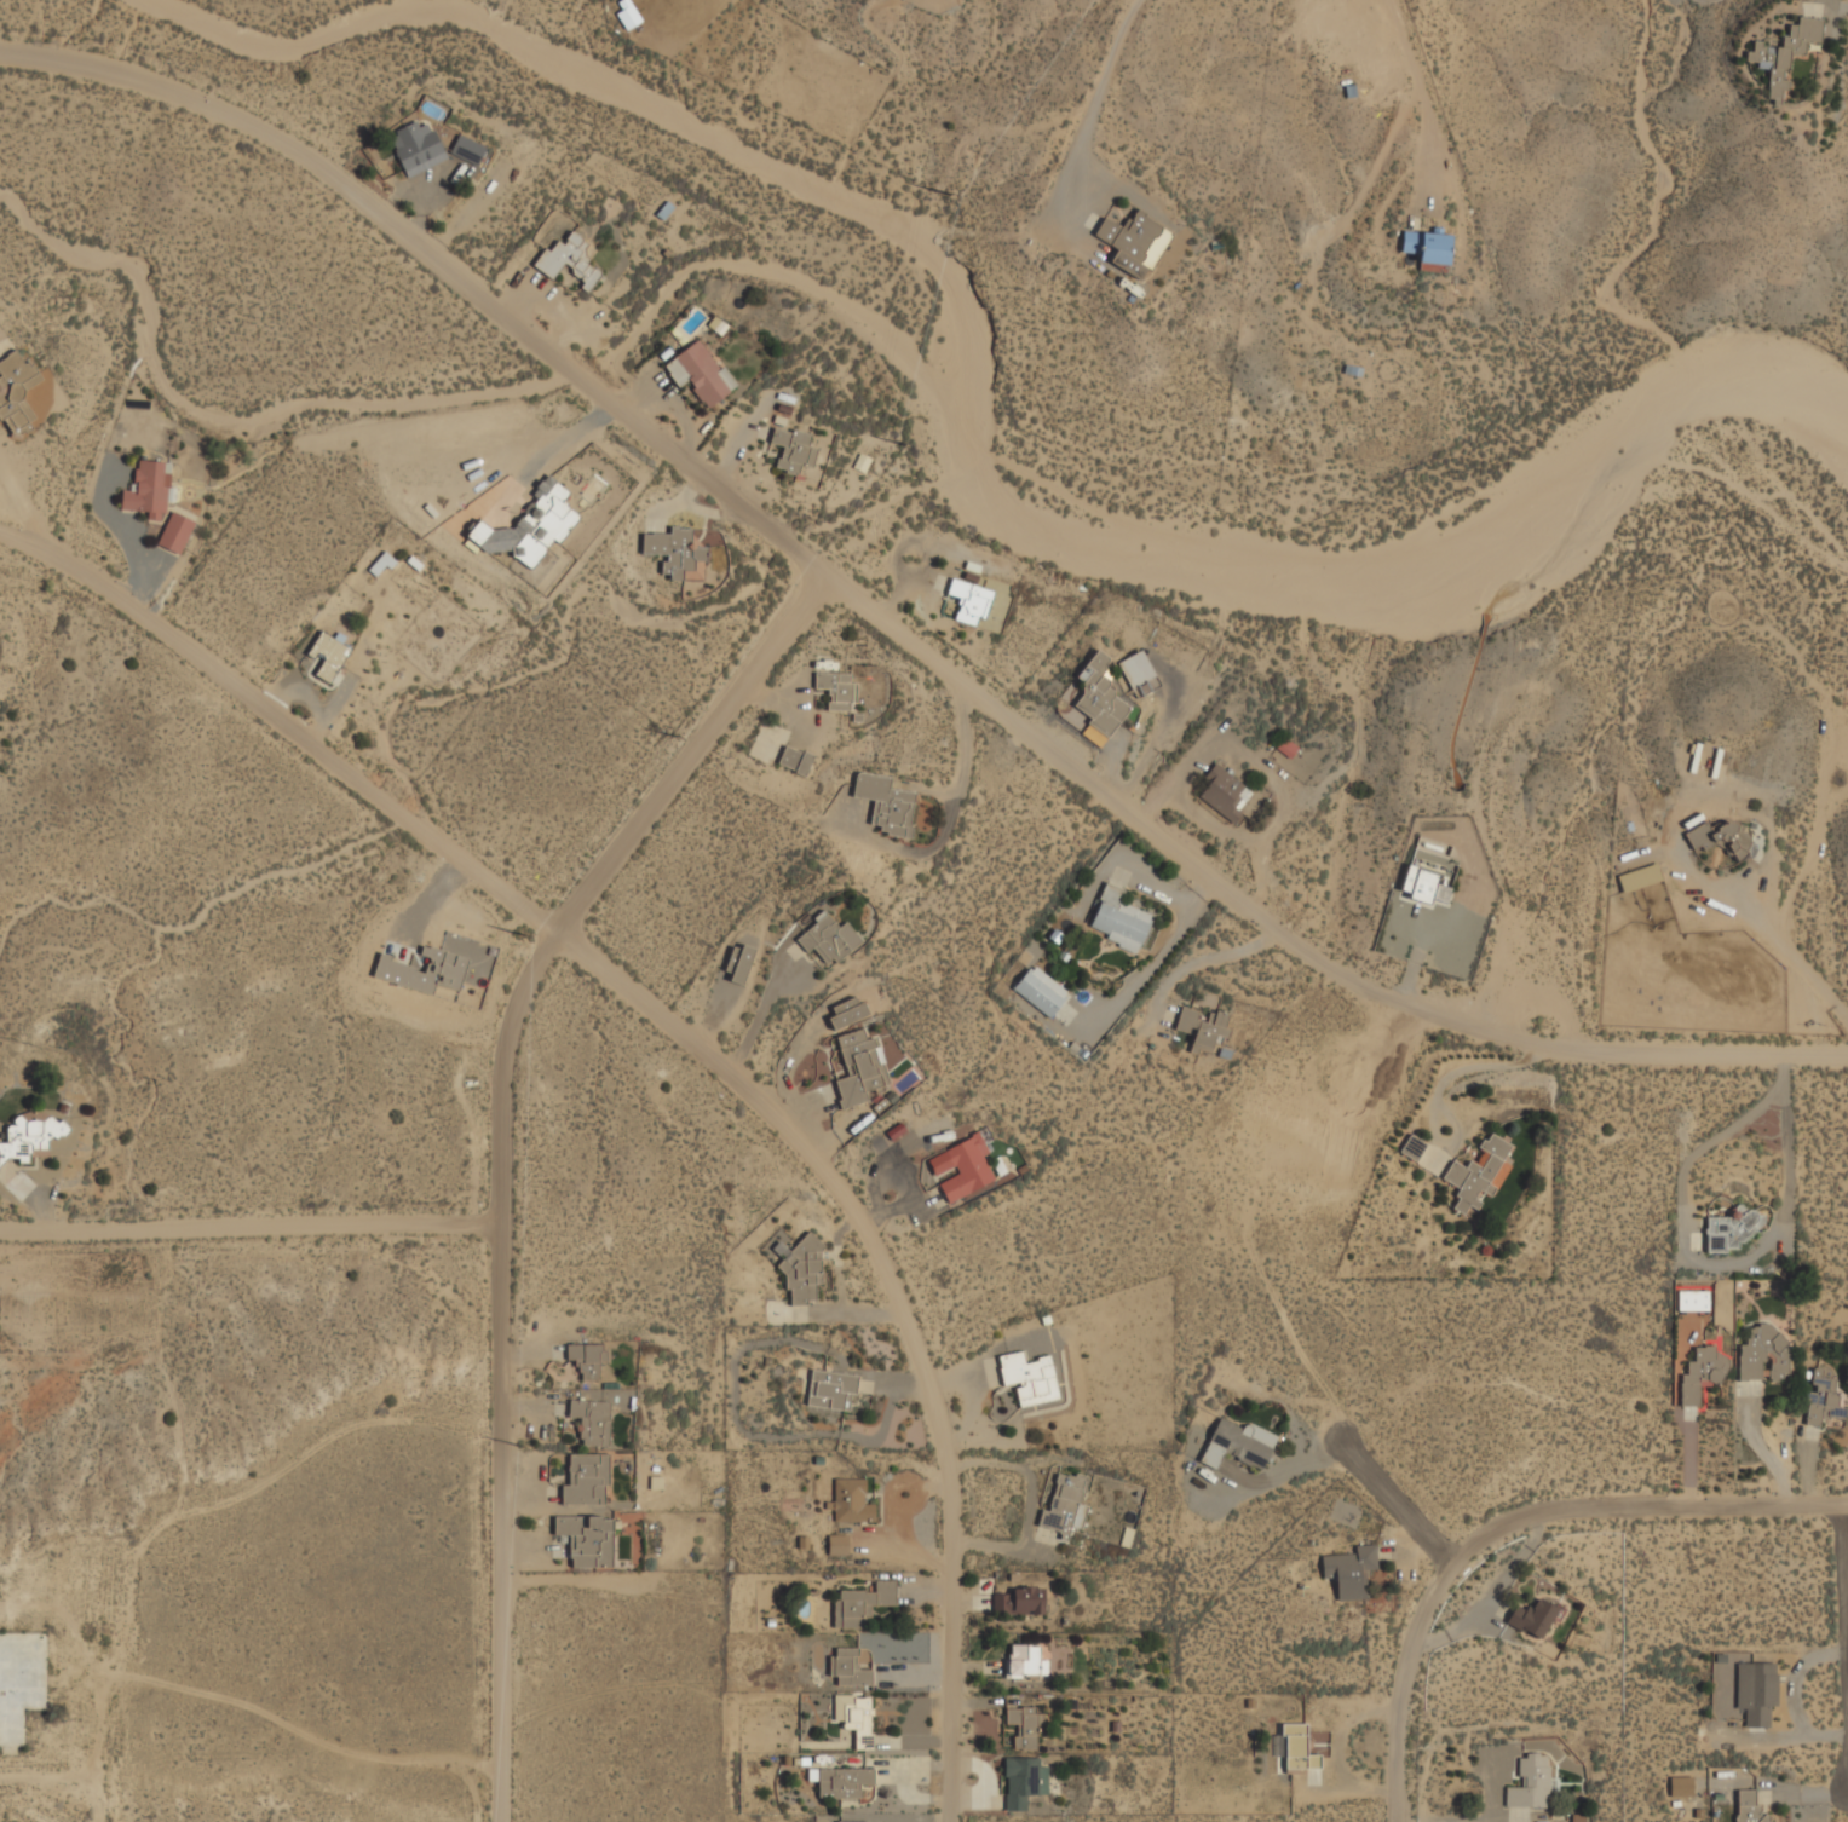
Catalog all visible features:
building: (628, 13)
building: (1784, 54)
road: (1094, 102)
building: (415, 145)
building: (467, 149)
power tower: (946, 195)
building: (1134, 242)
building: (1428, 248)
building: (569, 259)
building: (700, 370)
building: (16, 391)
power tower: (900, 442)
building: (791, 448)
building: (156, 502)
building: (530, 527)
building: (674, 549)
building: (380, 563)
building: (969, 600)
road: (894, 630)
building: (328, 656)
building: (1138, 673)
building: (837, 688)
building: (1099, 700)
power tower: (674, 734)
building: (794, 759)
building: (1224, 792)
building: (886, 802)
building: (1720, 836)
building: (1428, 872)
building: (1639, 876)
building: (1118, 919)
power tower: (518, 930)
building: (825, 938)
building: (741, 963)
building: (1041, 991)
building: (846, 1011)
building: (1202, 1027)
road: (698, 1038)
building: (860, 1067)
building: (29, 1134)
building: (1412, 1146)
road: (501, 1147)
building: (962, 1167)
building: (1479, 1172)
road: (251, 1220)
building: (1732, 1228)
road: (1688, 1257)
building: (801, 1269)
building: (1693, 1299)
building: (1763, 1354)
building: (587, 1359)
building: (1702, 1372)
building: (1027, 1376)
building: (831, 1389)
building: (1823, 1397)
building: (591, 1419)
building: (1237, 1443)
power tower: (522, 1448)
building: (587, 1478)
building: (851, 1500)
building: (1065, 1504)
road: (1510, 1524)
building: (586, 1538)
building: (837, 1543)
building: (1351, 1569)
building: (1019, 1599)
building: (862, 1602)
building: (1532, 1618)
building: (1027, 1660)
building: (848, 1667)
building: (21, 1682)
building: (1756, 1693)
building: (859, 1720)
building: (1024, 1724)
building: (1297, 1748)
building: (1023, 1780)
building: (844, 1781)
building: (1530, 1783)
building: (1680, 1786)
building: (1748, 1806)
building: (856, 1821)

